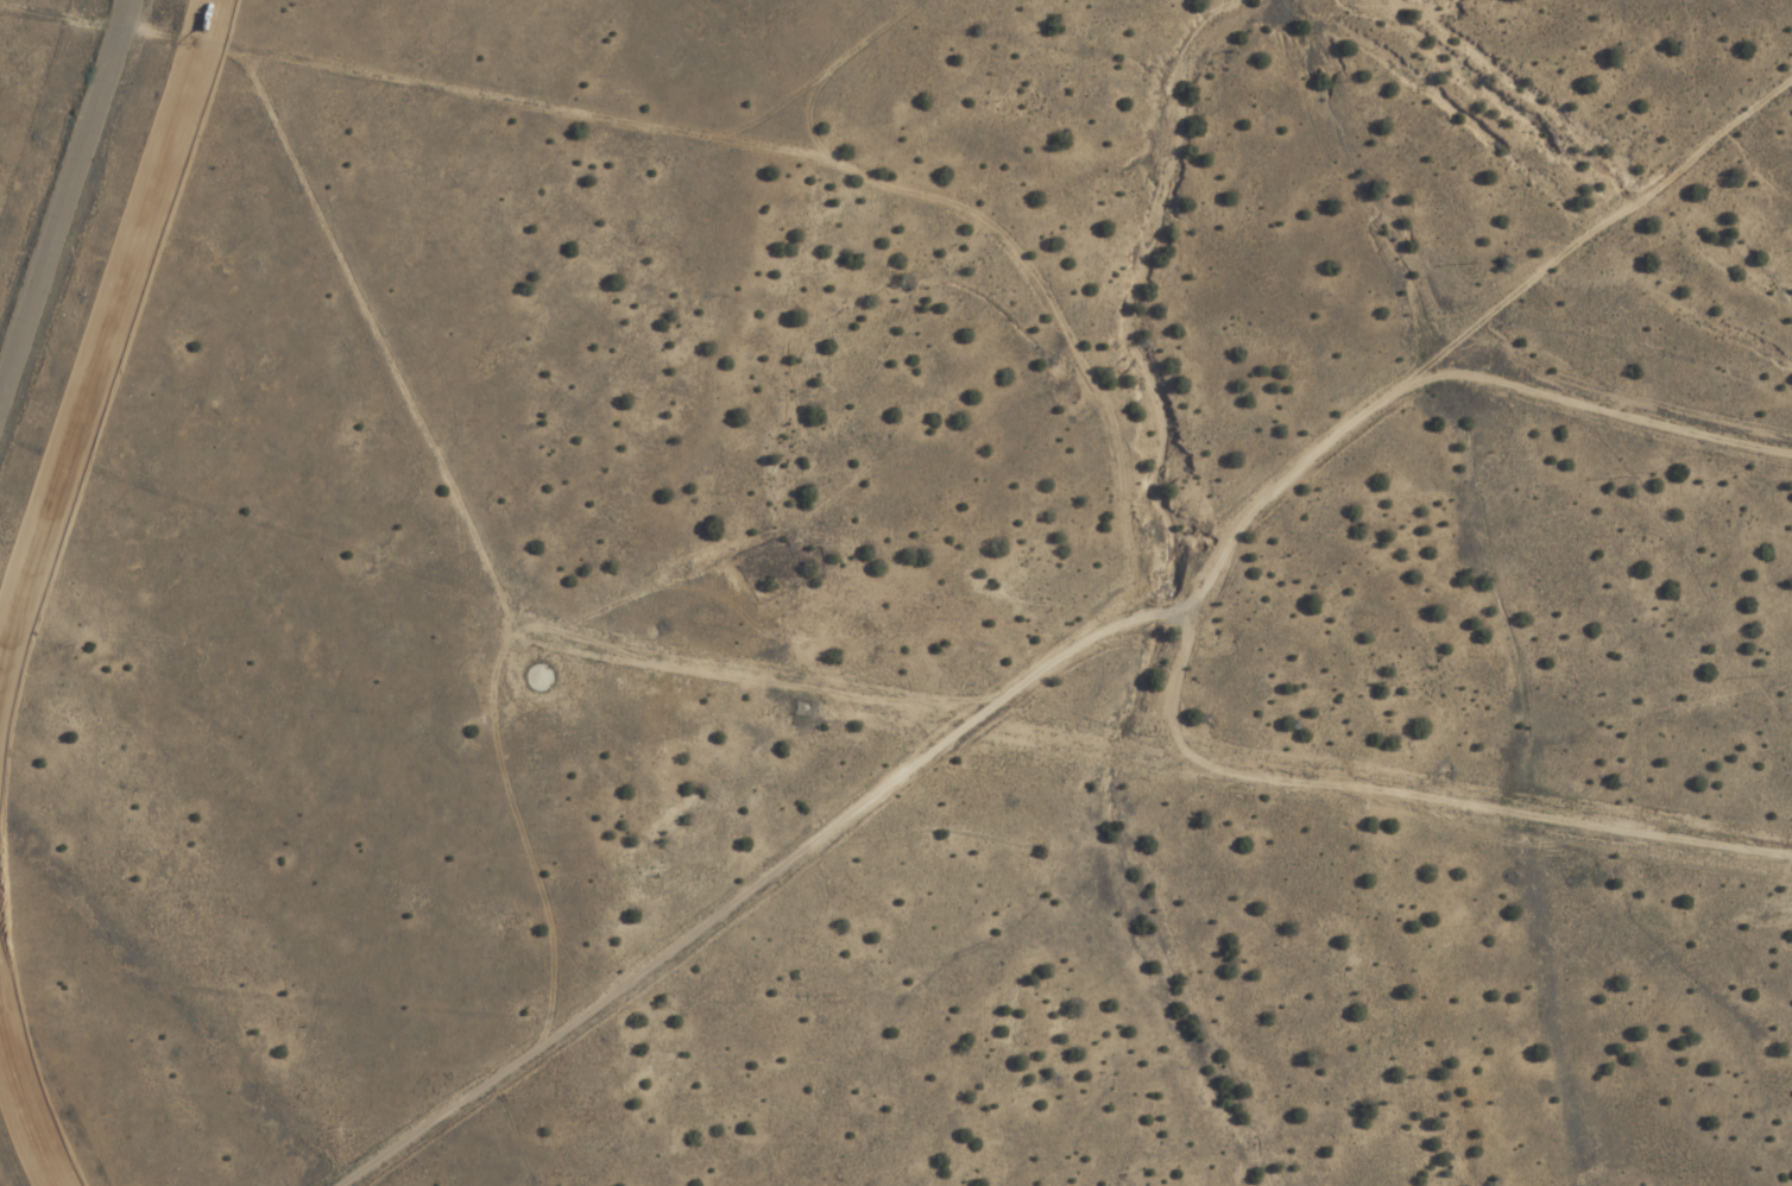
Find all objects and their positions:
road: (65, 209)

